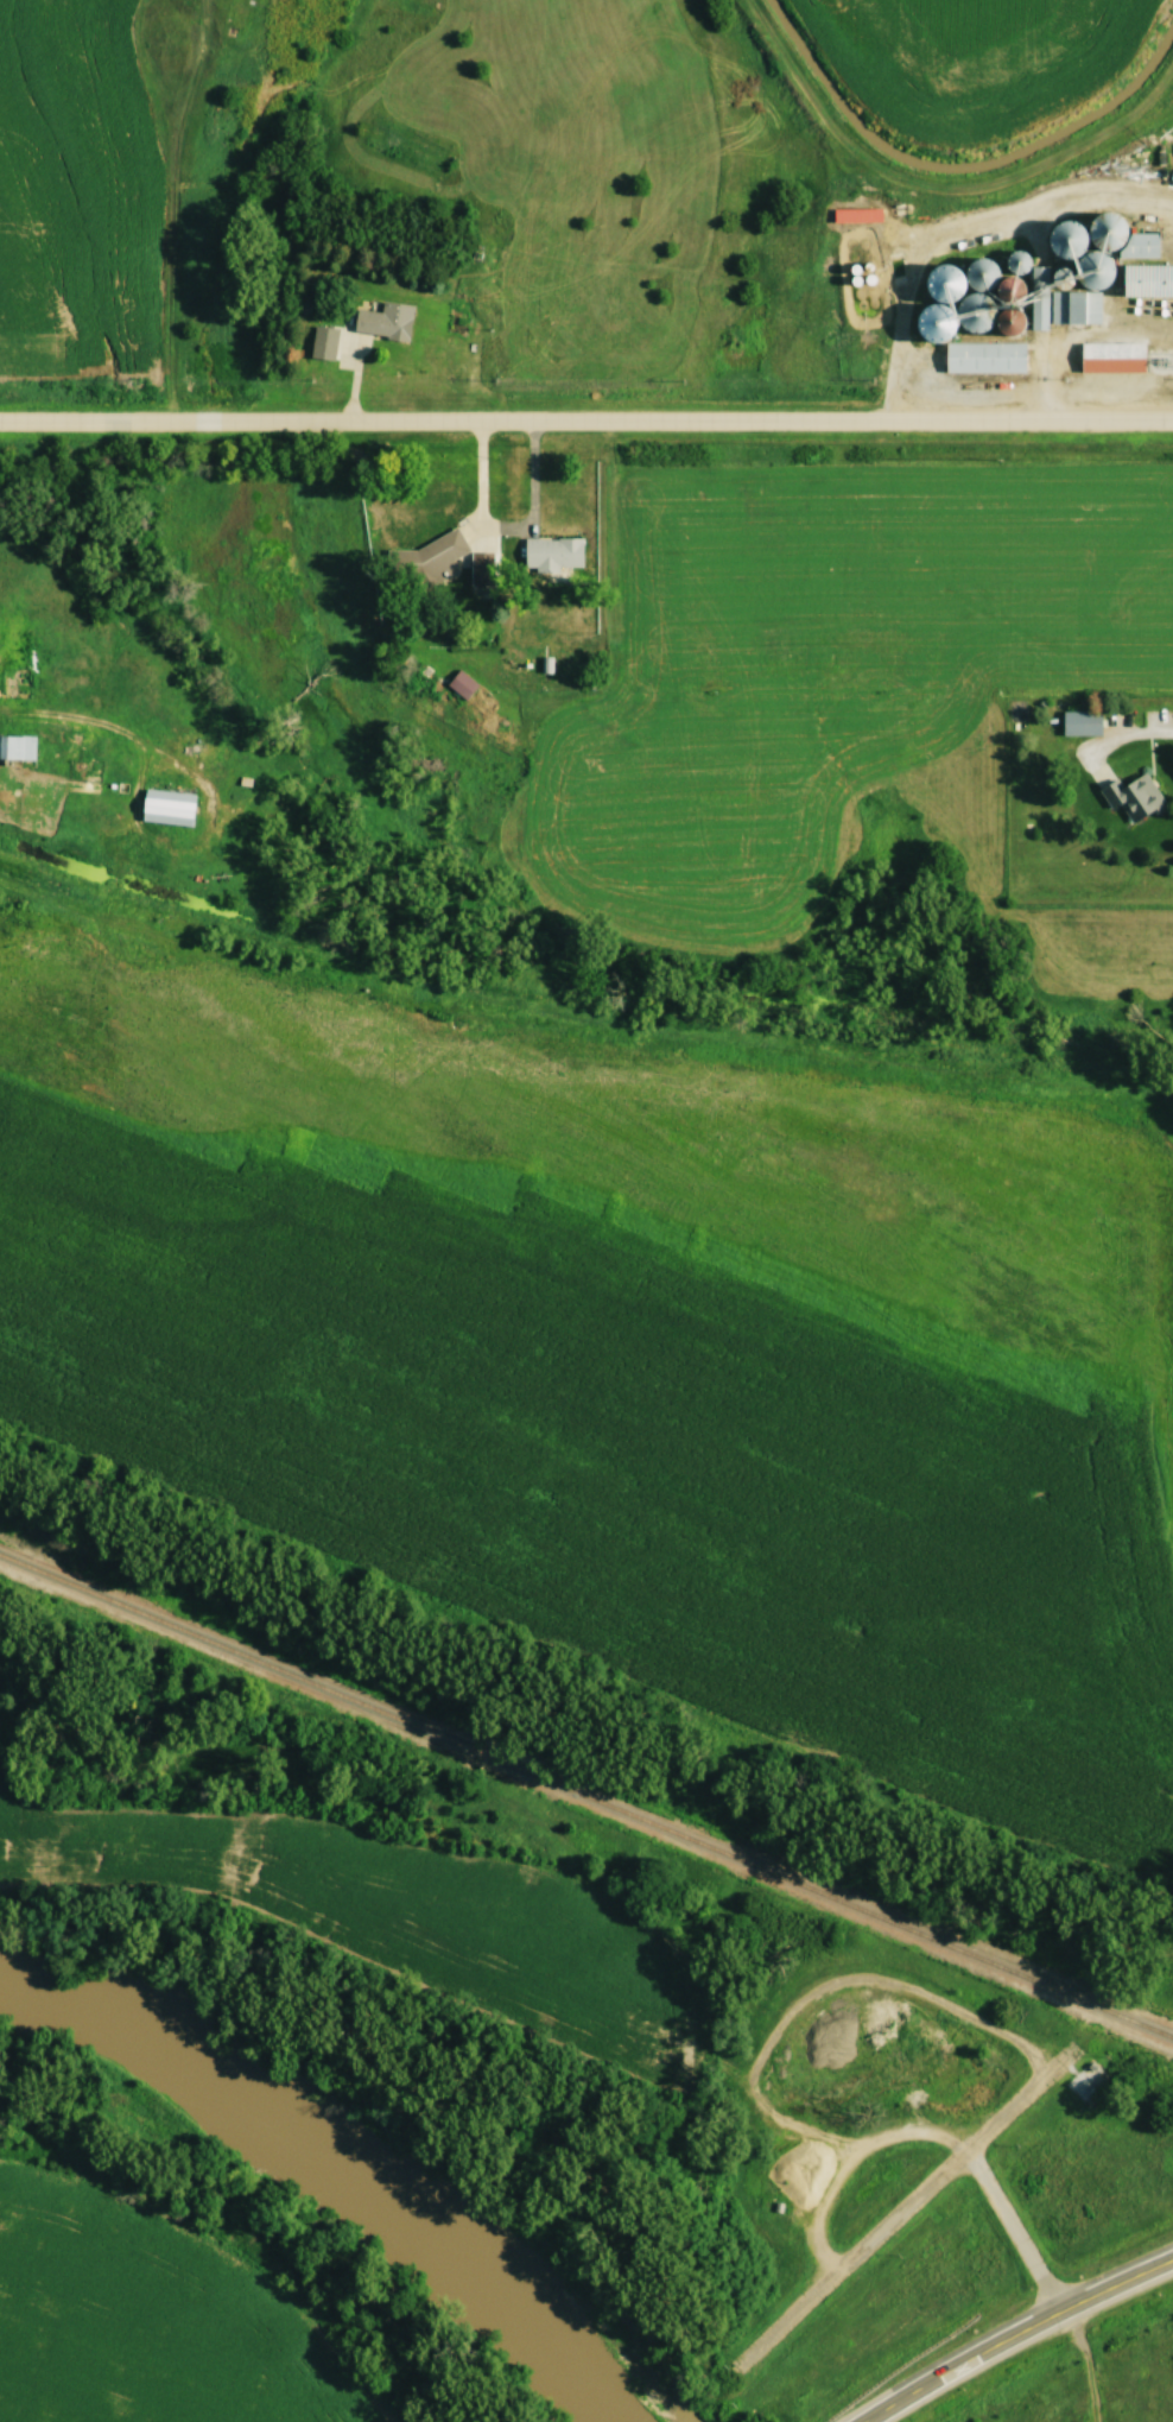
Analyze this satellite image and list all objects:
building: (871, 217)
road: (965, 235)
building: (1127, 241)
building: (979, 274)
building: (1158, 285)
building: (1009, 289)
building: (1074, 308)
building: (380, 322)
building: (1127, 358)
building: (1002, 360)
road: (586, 420)
road: (508, 529)
building: (552, 557)
building: (432, 561)
building: (481, 568)
building: (1080, 722)
road: (1117, 740)
building: (17, 745)
building: (1133, 796)
building: (166, 807)
crop: (630, 1343)
railway: (586, 1795)
building: (1085, 2083)
river: (344, 2165)
road: (909, 2197)
road: (1023, 2222)
road: (1010, 2333)

